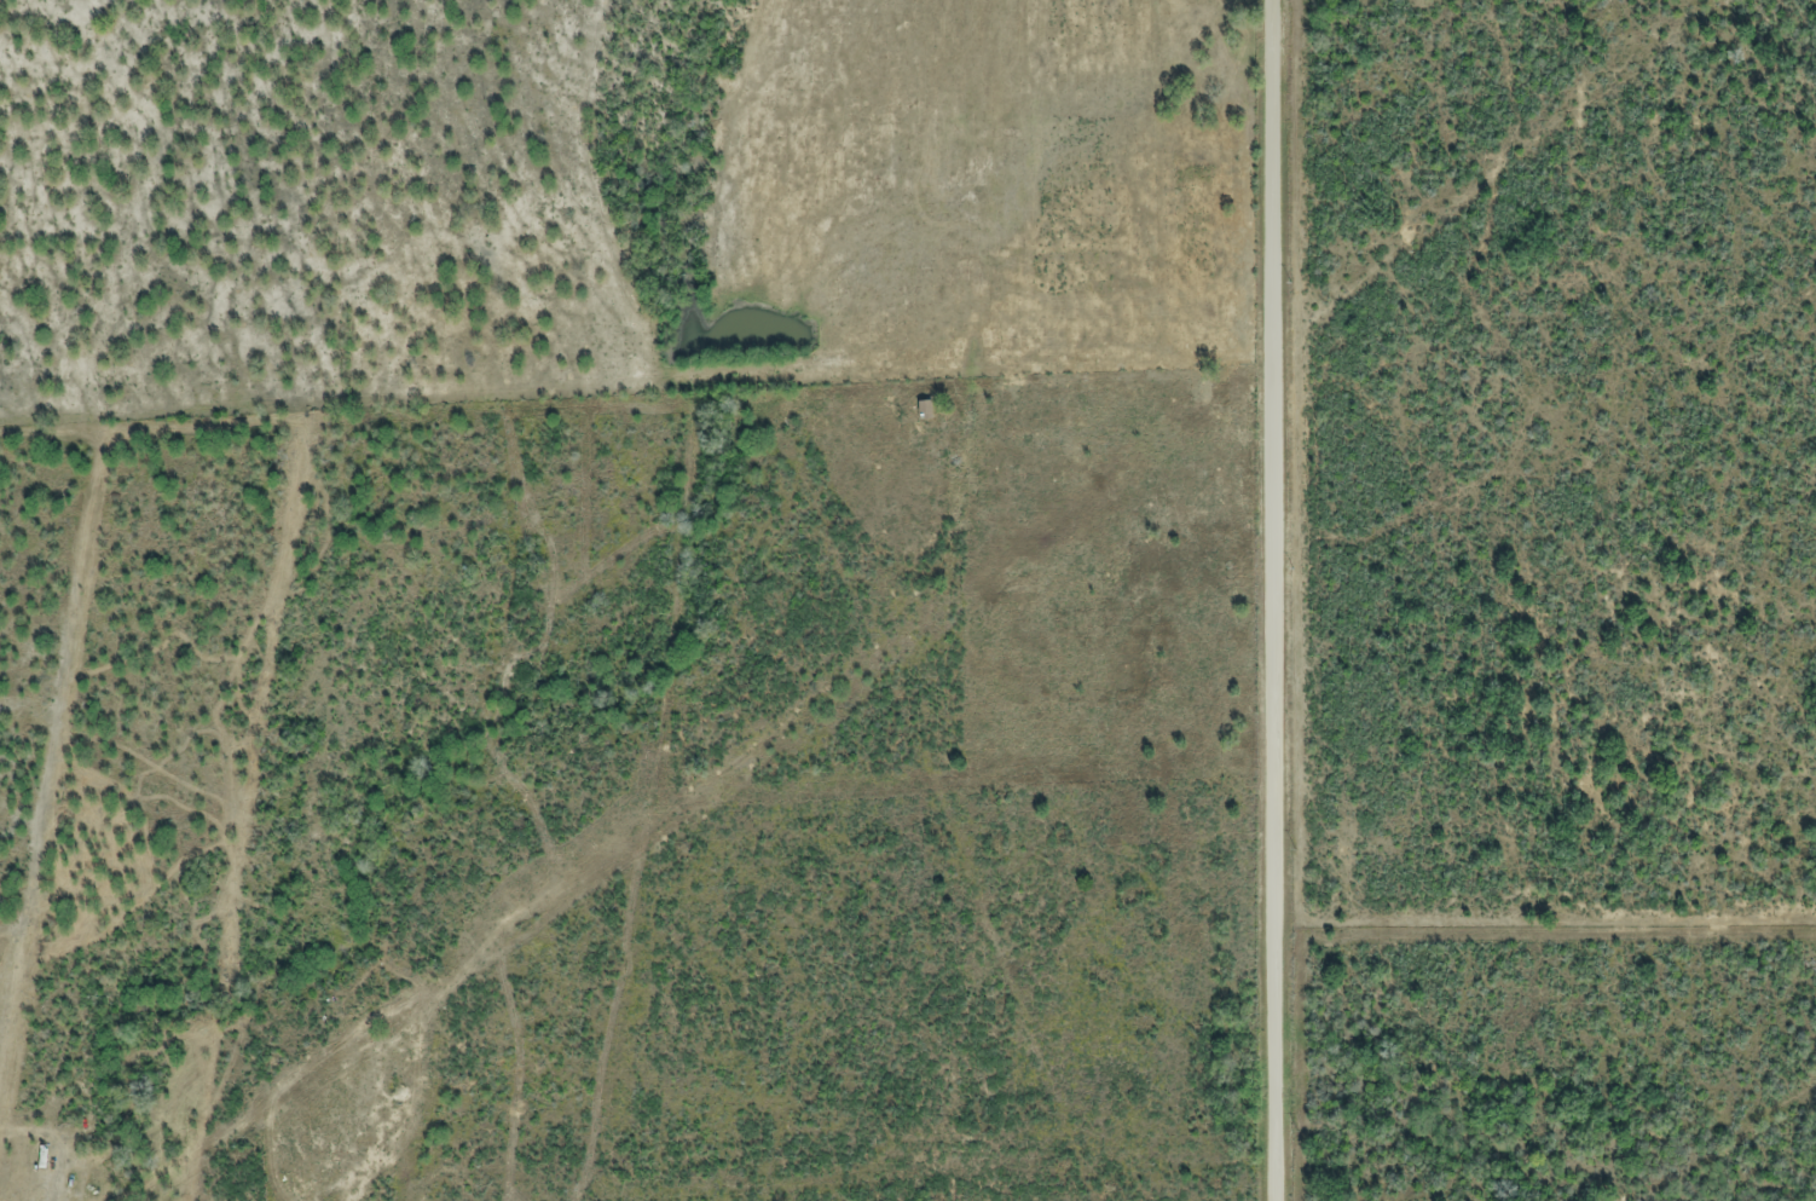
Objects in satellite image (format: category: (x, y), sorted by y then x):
road: (1279, 600)

